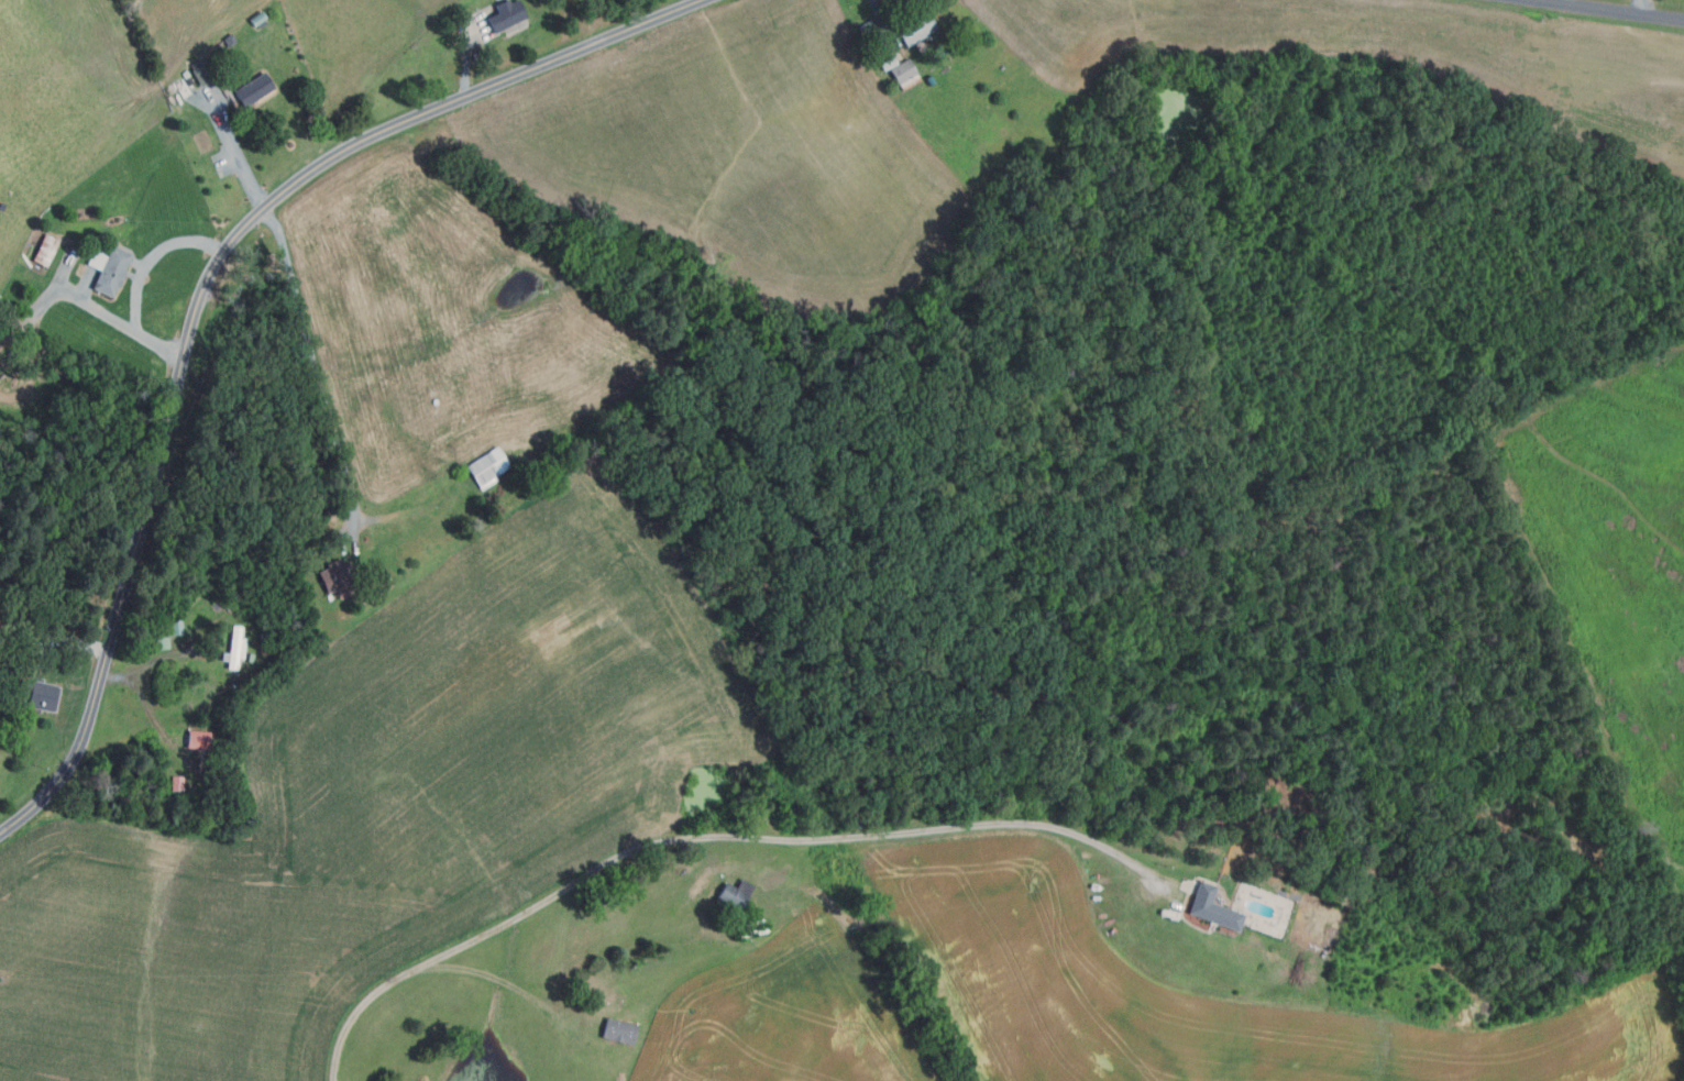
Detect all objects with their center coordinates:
road: (1640, 7)
road: (1611, 9)
building: (504, 14)
road: (881, 22)
building: (866, 27)
building: (916, 29)
building: (874, 42)
road: (467, 58)
building: (902, 74)
building: (201, 77)
building: (253, 89)
road: (234, 148)
building: (44, 249)
road: (152, 256)
building: (107, 268)
building: (33, 274)
road: (200, 291)
road: (120, 321)
road: (315, 365)
building: (0, 371)
building: (486, 465)
building: (334, 576)
building: (176, 626)
building: (161, 641)
road: (67, 646)
building: (233, 646)
road: (148, 665)
building: (40, 694)
building: (198, 740)
building: (176, 783)
road: (697, 832)
building: (734, 893)
building: (1213, 909)
building: (617, 1029)

